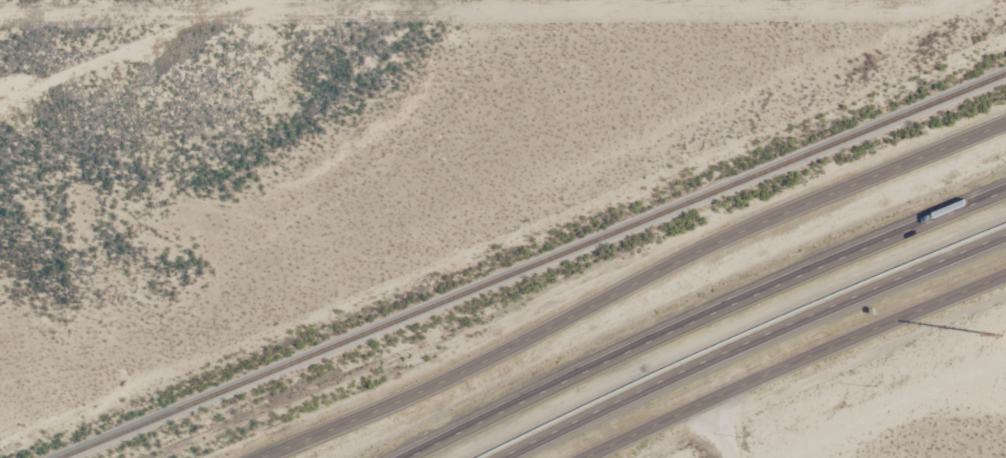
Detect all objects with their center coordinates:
road: (700, 246)
railway: (531, 266)
road: (702, 317)
road: (749, 340)
road: (815, 365)
road: (330, 427)

